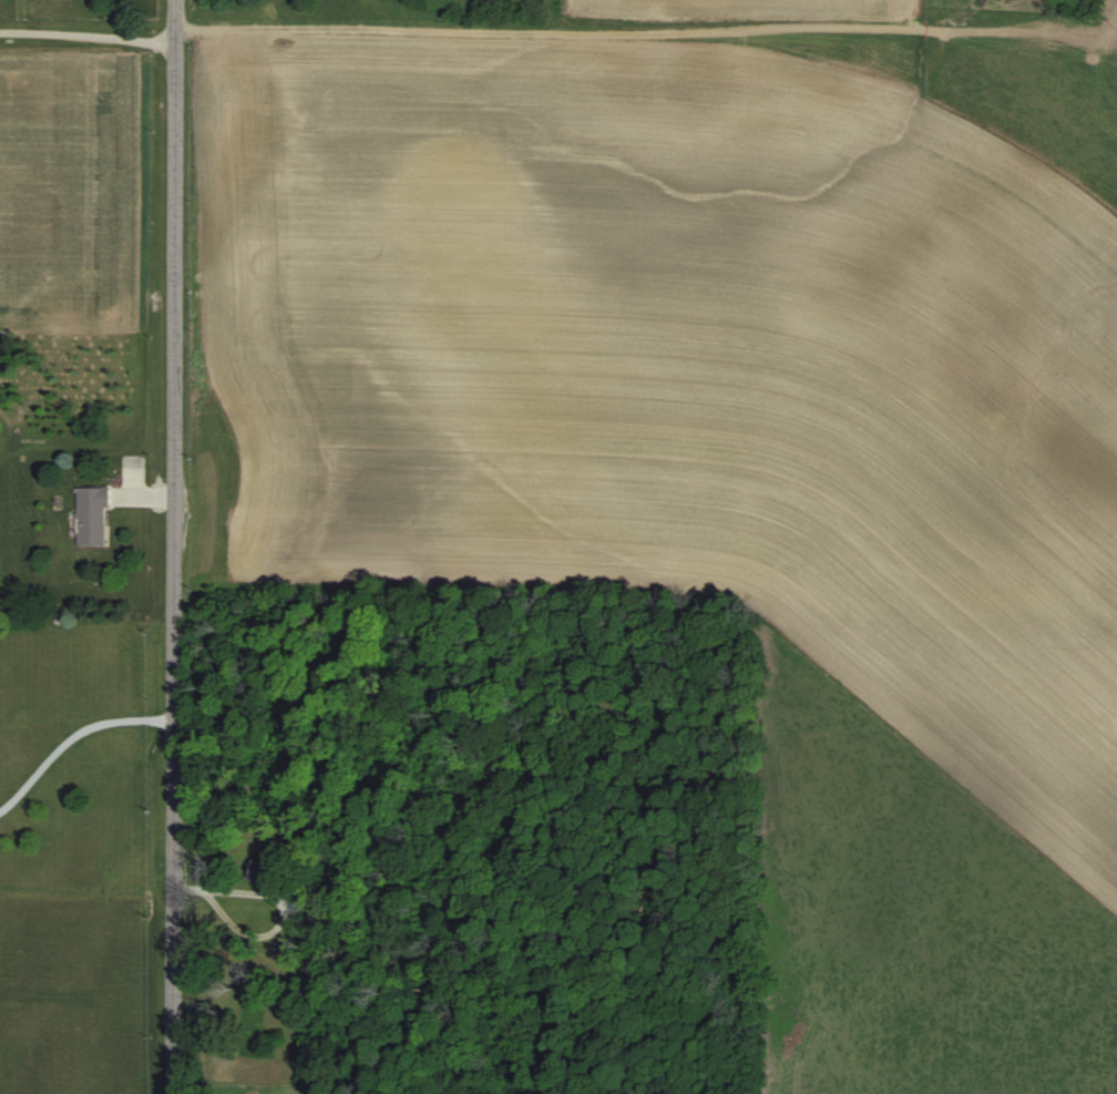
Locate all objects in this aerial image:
road: (86, 39)
building: (89, 515)
road: (172, 546)
road: (71, 734)

